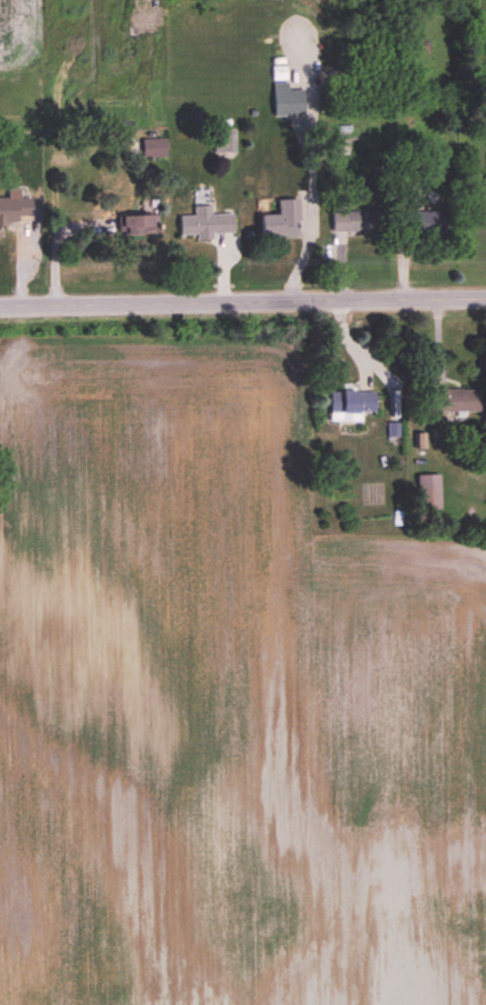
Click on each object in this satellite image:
building: (287, 100)
road: (308, 120)
building: (224, 141)
building: (333, 147)
building: (153, 148)
building: (14, 211)
building: (281, 221)
building: (355, 222)
building: (426, 222)
building: (140, 224)
building: (206, 224)
road: (242, 298)
building: (454, 402)
building: (350, 406)
building: (428, 493)

